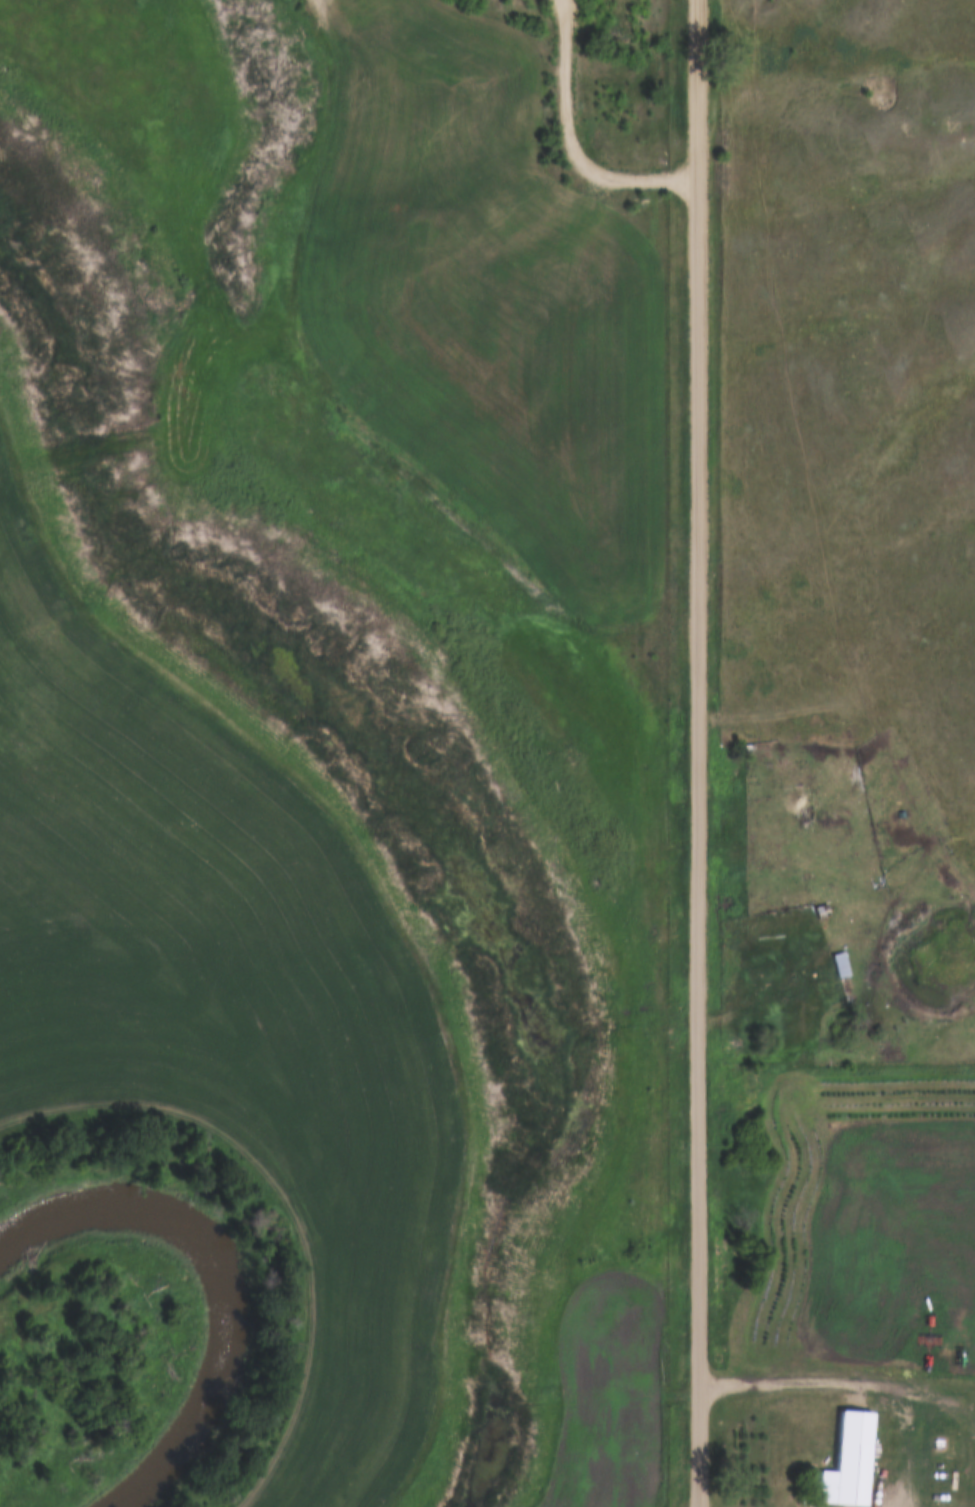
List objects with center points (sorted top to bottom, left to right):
road: (563, 140)
road: (764, 702)
building: (835, 749)
road: (697, 753)
building: (826, 912)
building: (842, 966)
road: (772, 993)
road: (290, 1199)
river: (212, 1286)
building: (783, 1322)
building: (848, 1477)

